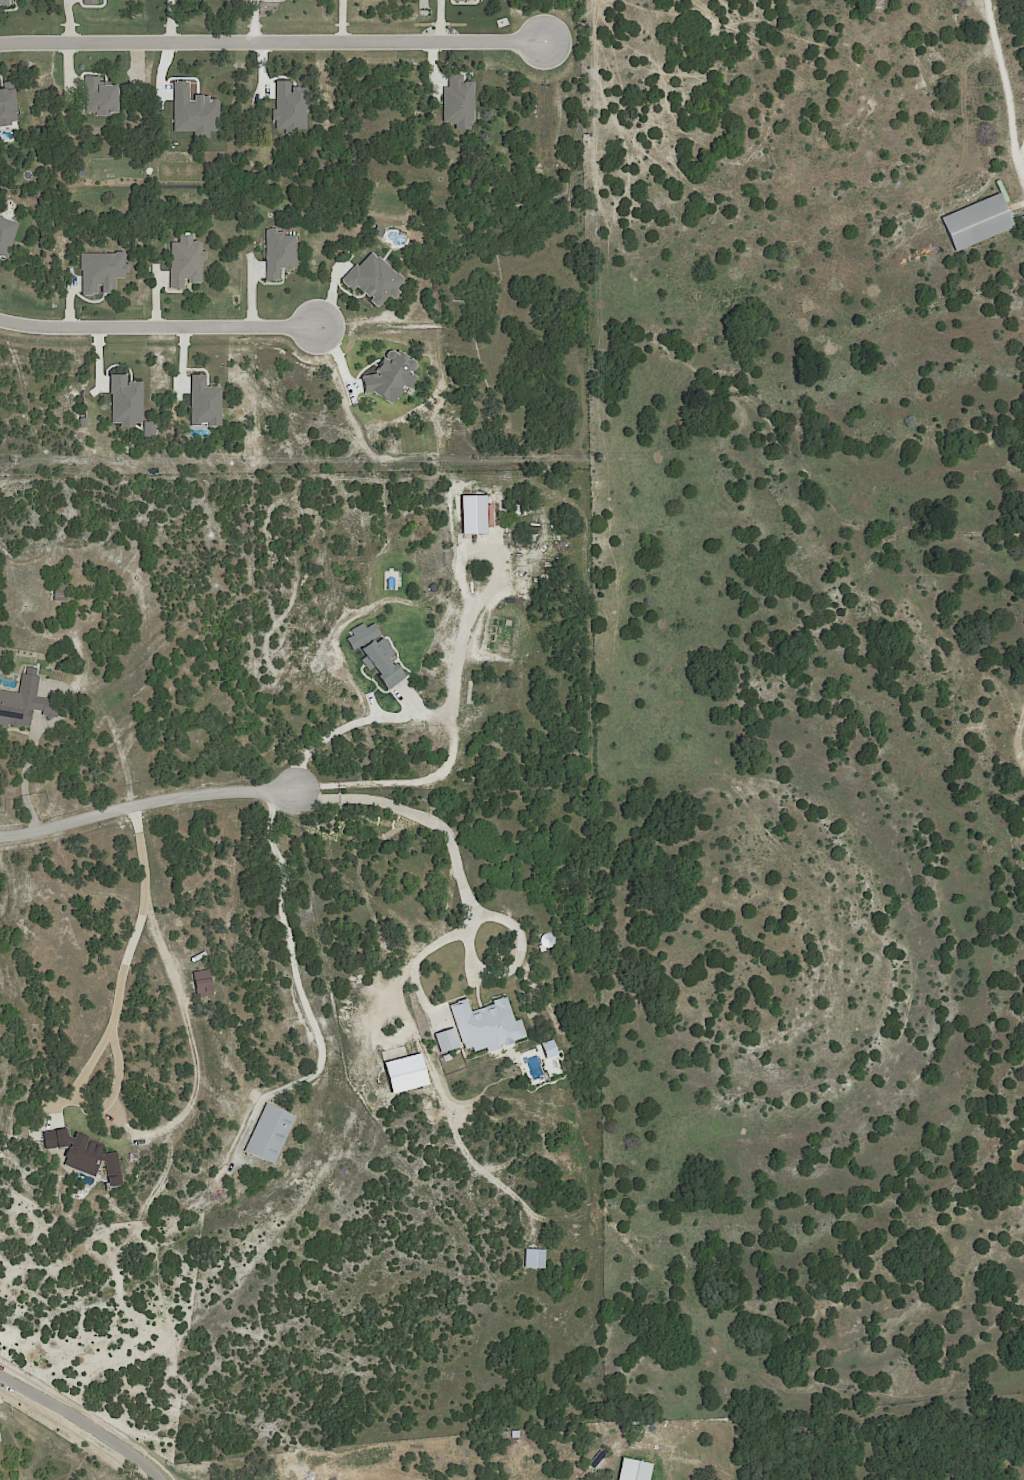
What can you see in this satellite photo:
road: (272, 37)
road: (1006, 92)
building: (977, 223)
road: (156, 325)
building: (58, 590)
building: (21, 701)
road: (358, 722)
road: (449, 743)
road: (23, 775)
road: (145, 799)
road: (437, 825)
road: (286, 927)
road: (120, 1014)
building: (271, 1135)
road: (89, 1422)
building: (516, 1434)
building: (0, 1438)
building: (633, 1470)

